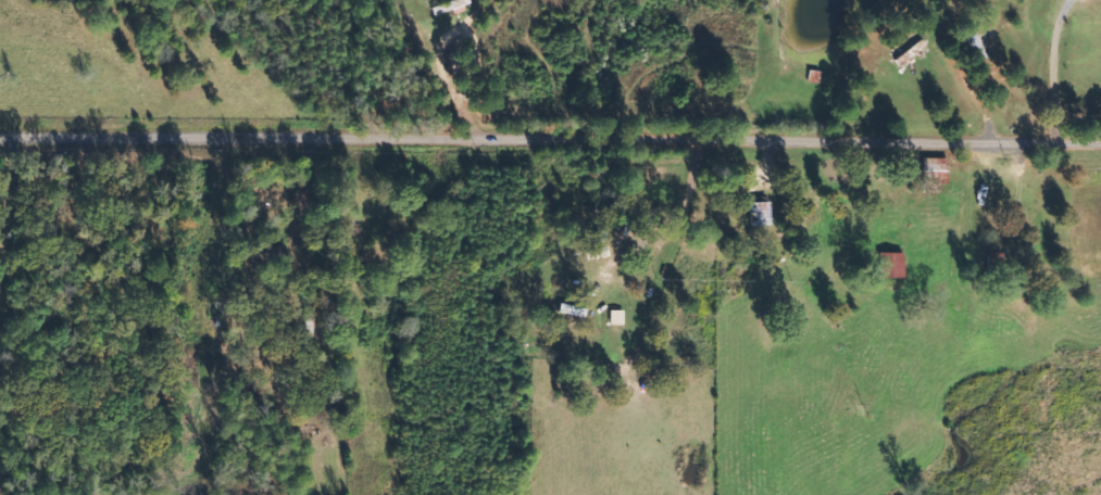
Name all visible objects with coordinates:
building: (450, 5)
building: (975, 43)
road: (550, 140)
building: (930, 173)
building: (759, 213)
building: (887, 264)

